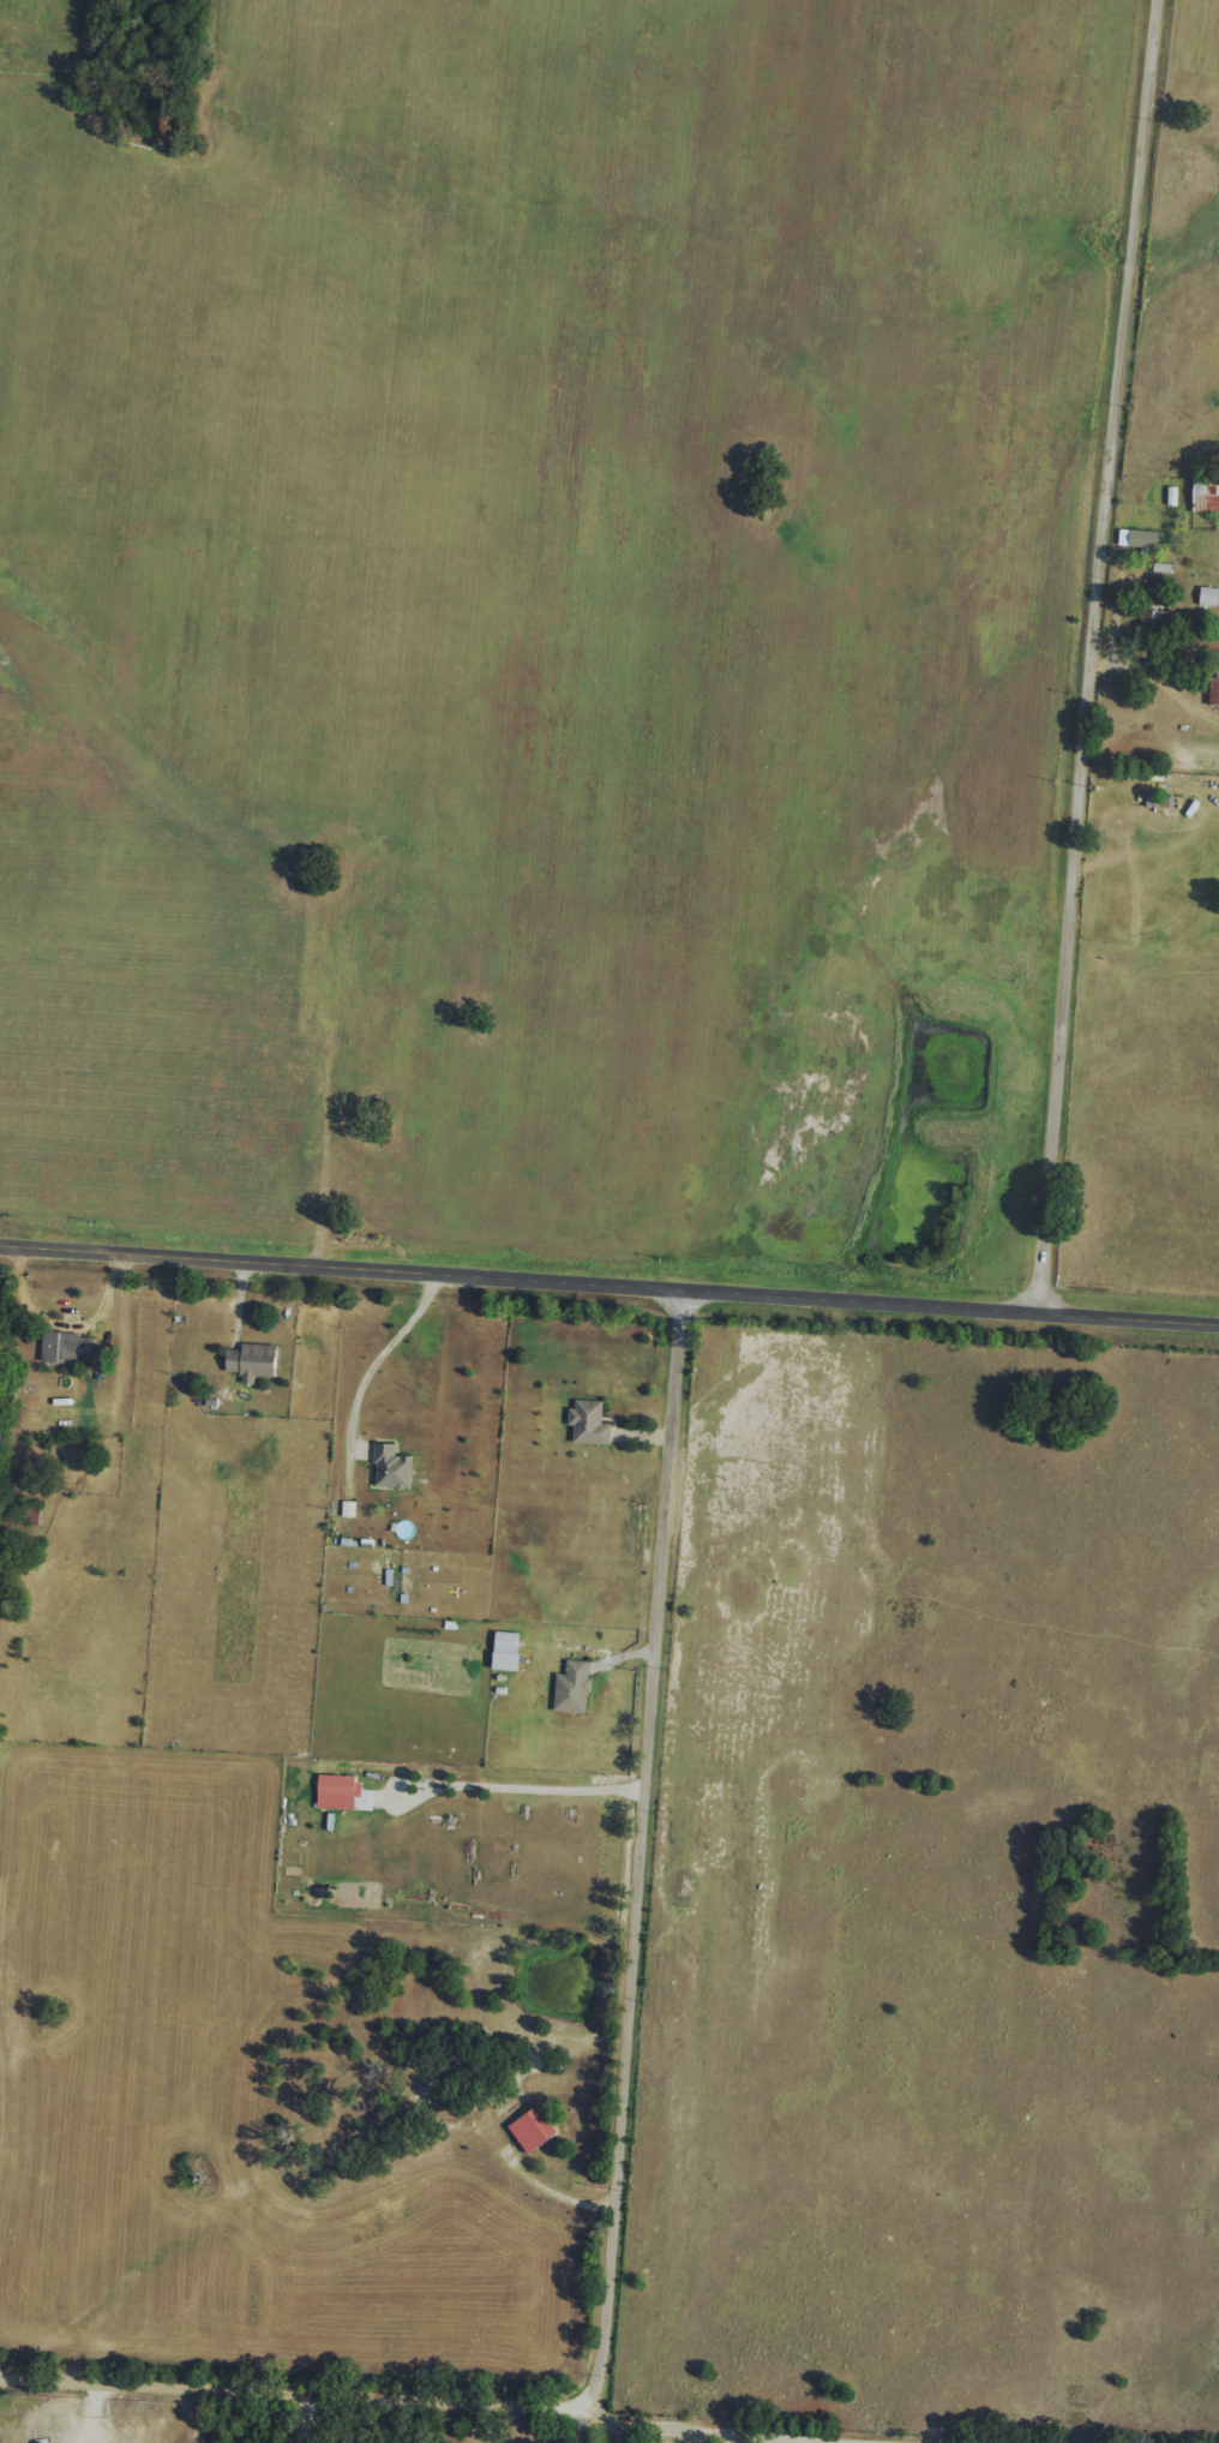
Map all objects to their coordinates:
building: (1206, 495)
building: (1139, 539)
building: (1163, 568)
building: (1155, 622)
road: (1109, 655)
road: (609, 1283)
road: (65, 1324)
building: (68, 1347)
road: (382, 1354)
building: (253, 1361)
building: (590, 1423)
building: (392, 1467)
building: (348, 1509)
building: (508, 1652)
building: (574, 1688)
road: (520, 1784)
building: (338, 1791)
road: (632, 1845)
building: (534, 2130)
road: (551, 2193)
road: (295, 2390)
road: (288, 2417)
road: (745, 2432)
road: (703, 2437)
road: (733, 2437)

